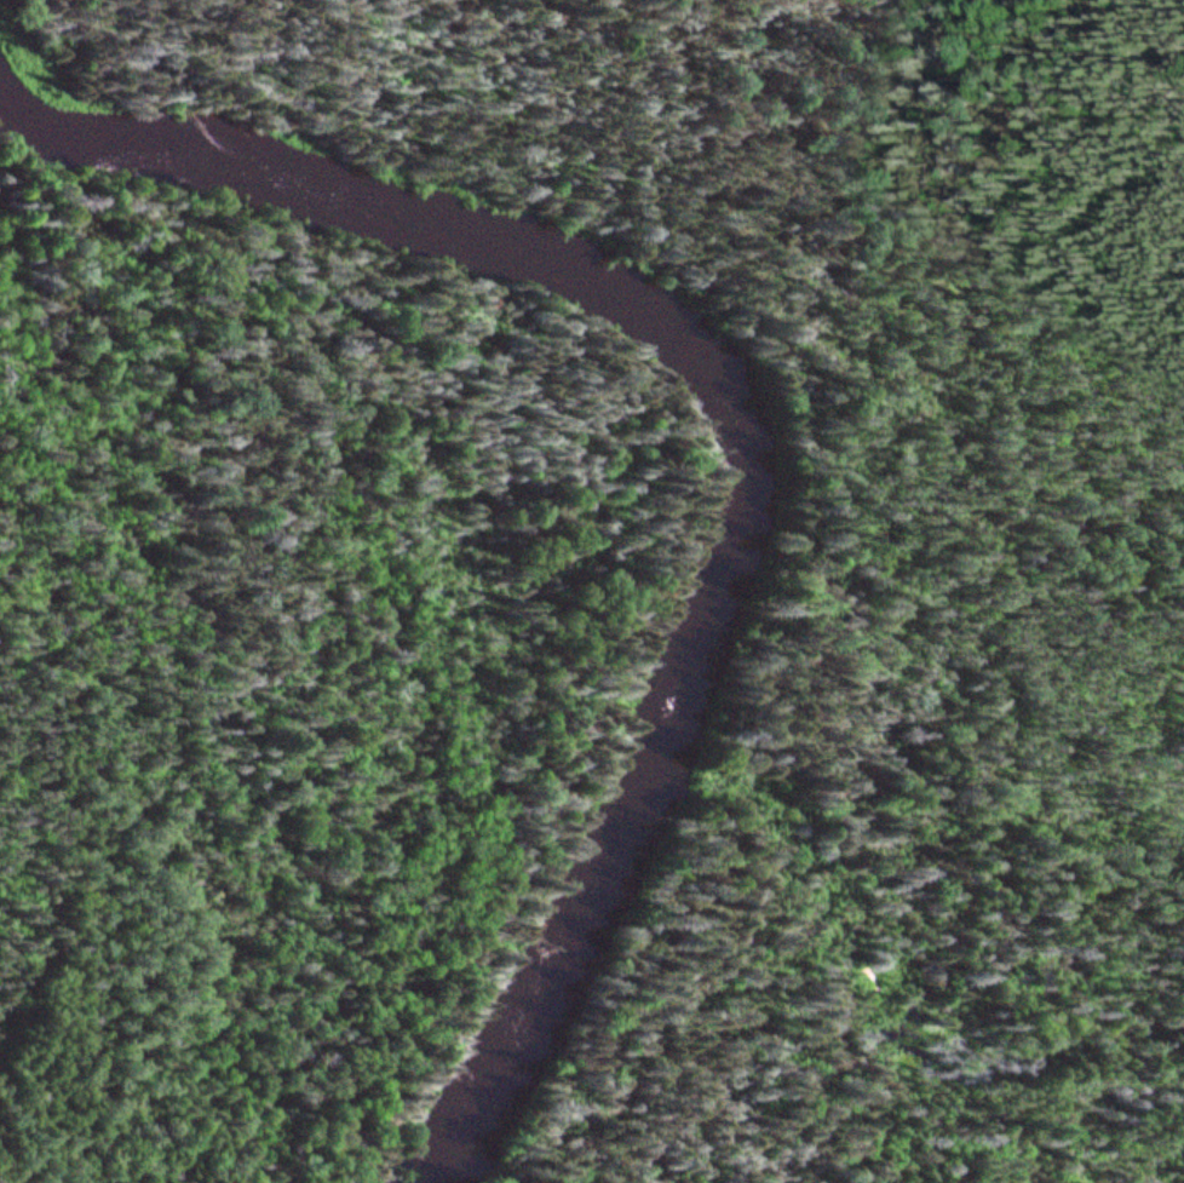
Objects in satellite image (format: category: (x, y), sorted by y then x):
river: (546, 276)
river: (546, 961)

